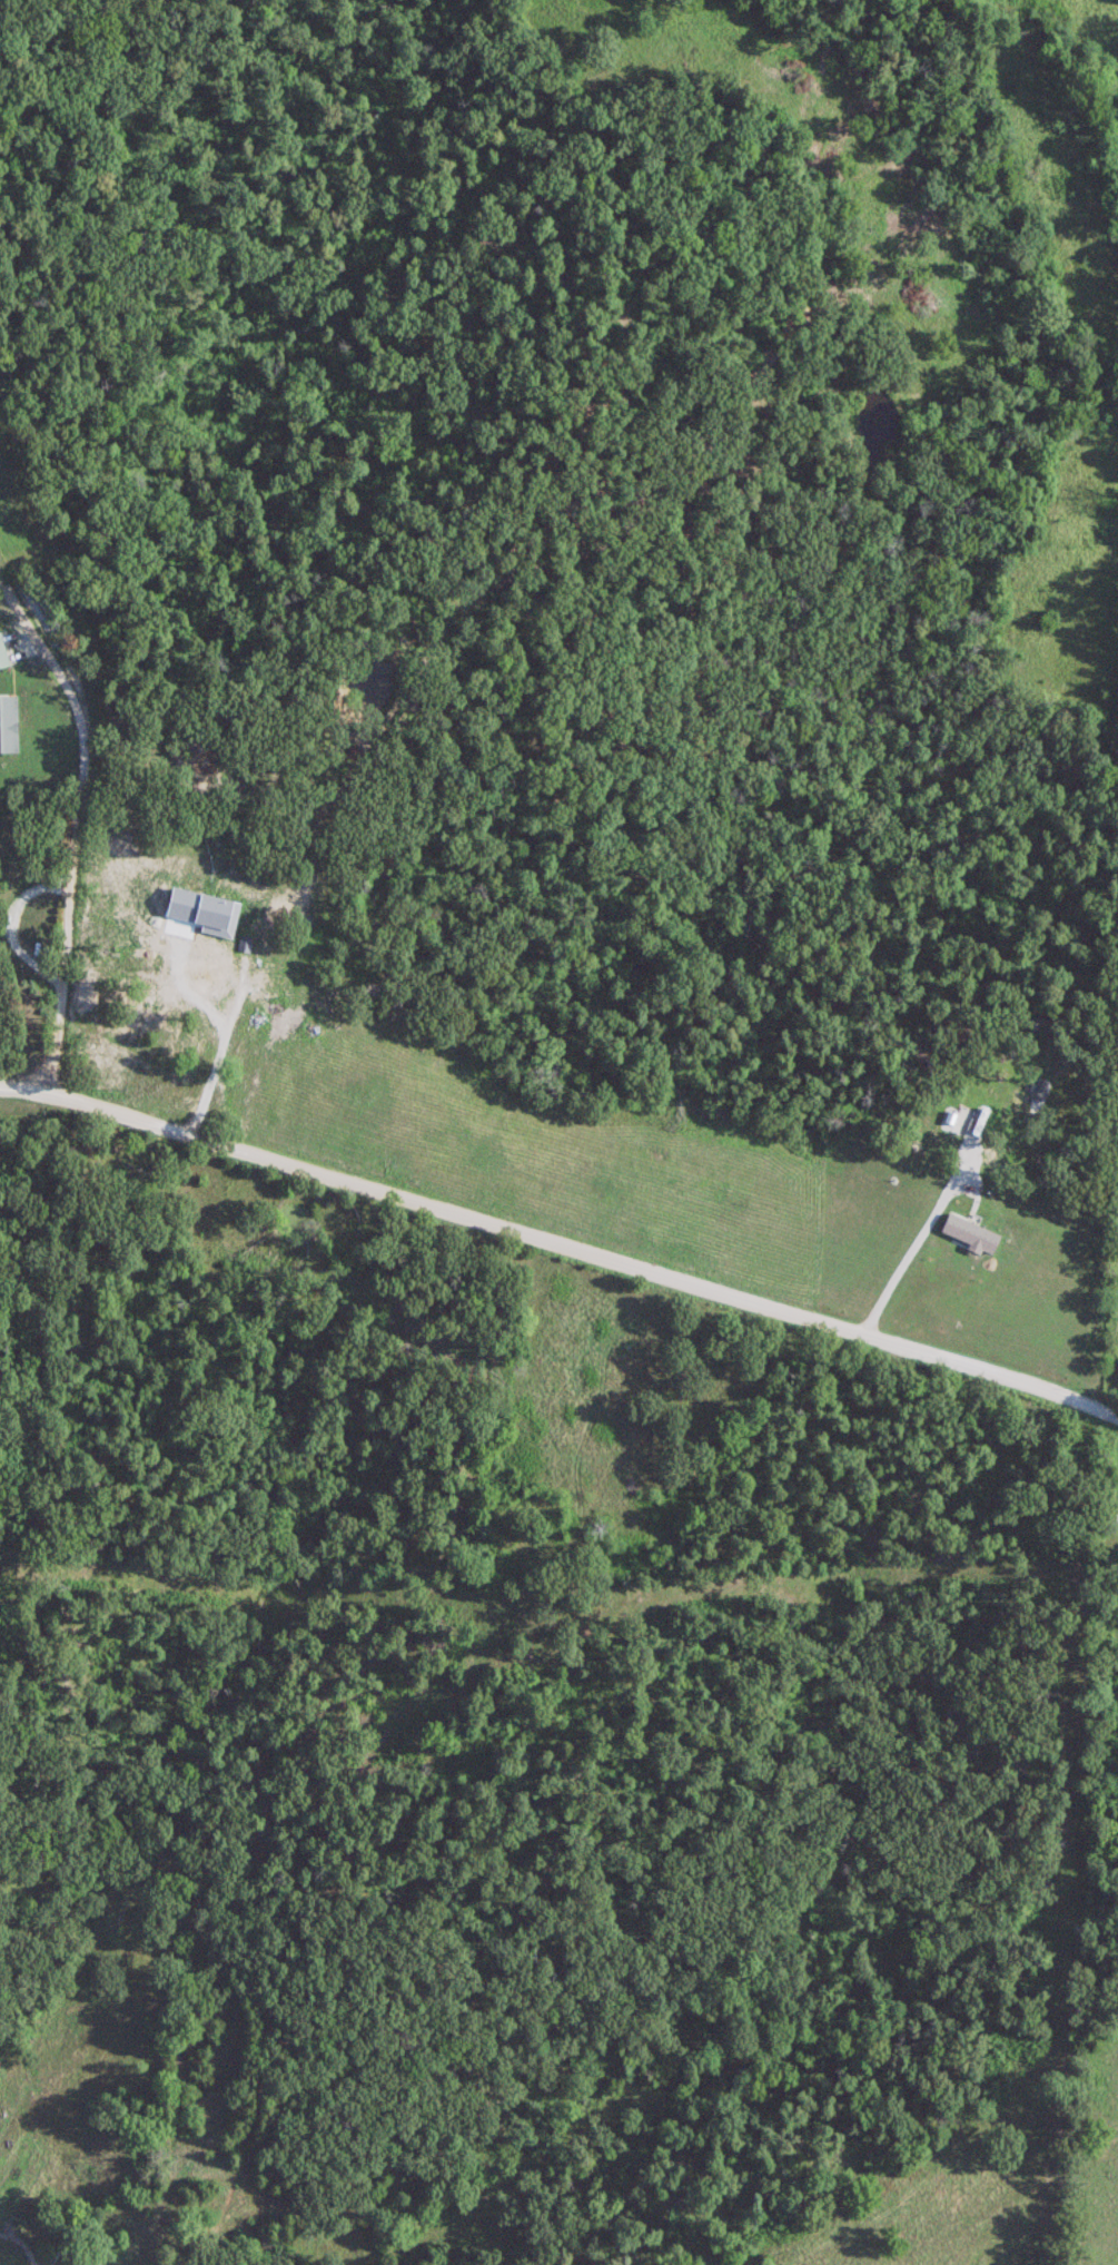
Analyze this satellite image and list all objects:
building: (3, 652)
building: (4, 722)
road: (76, 828)
building: (167, 993)
building: (277, 1027)
building: (936, 1114)
road: (562, 1247)

